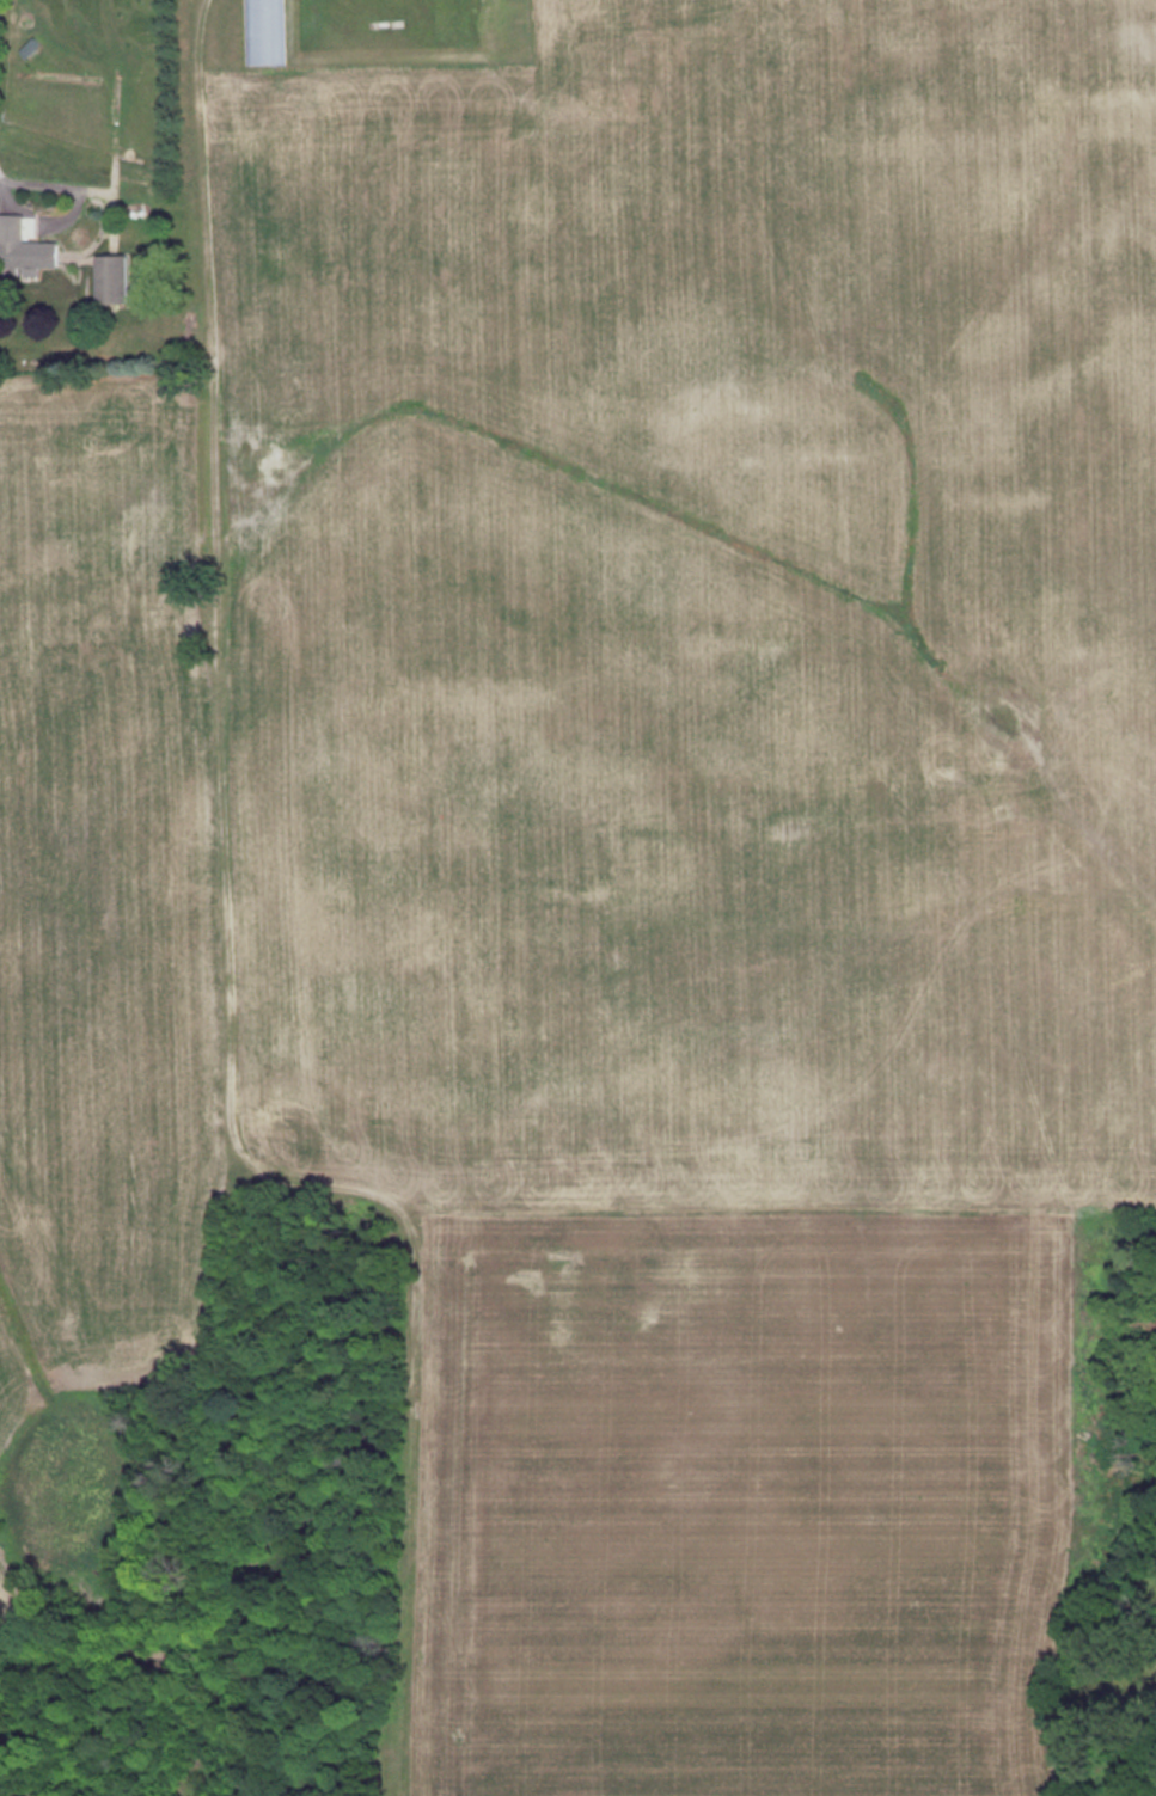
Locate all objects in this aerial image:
building: (263, 32)
road: (4, 195)
building: (25, 255)
building: (109, 280)

